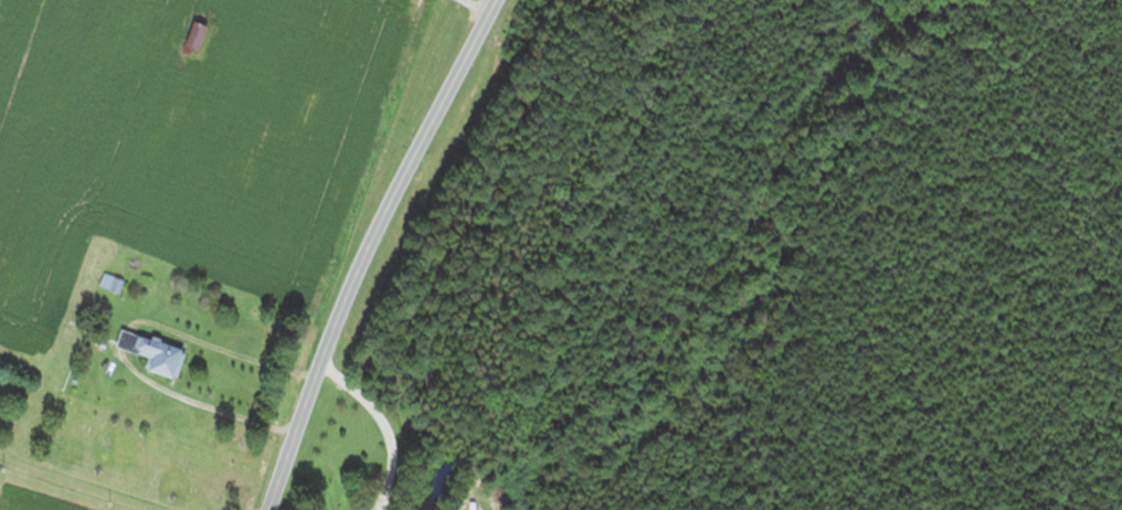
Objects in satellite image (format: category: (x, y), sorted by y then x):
road: (479, 3)
building: (195, 40)
road: (366, 248)
building: (155, 352)
road: (75, 485)

